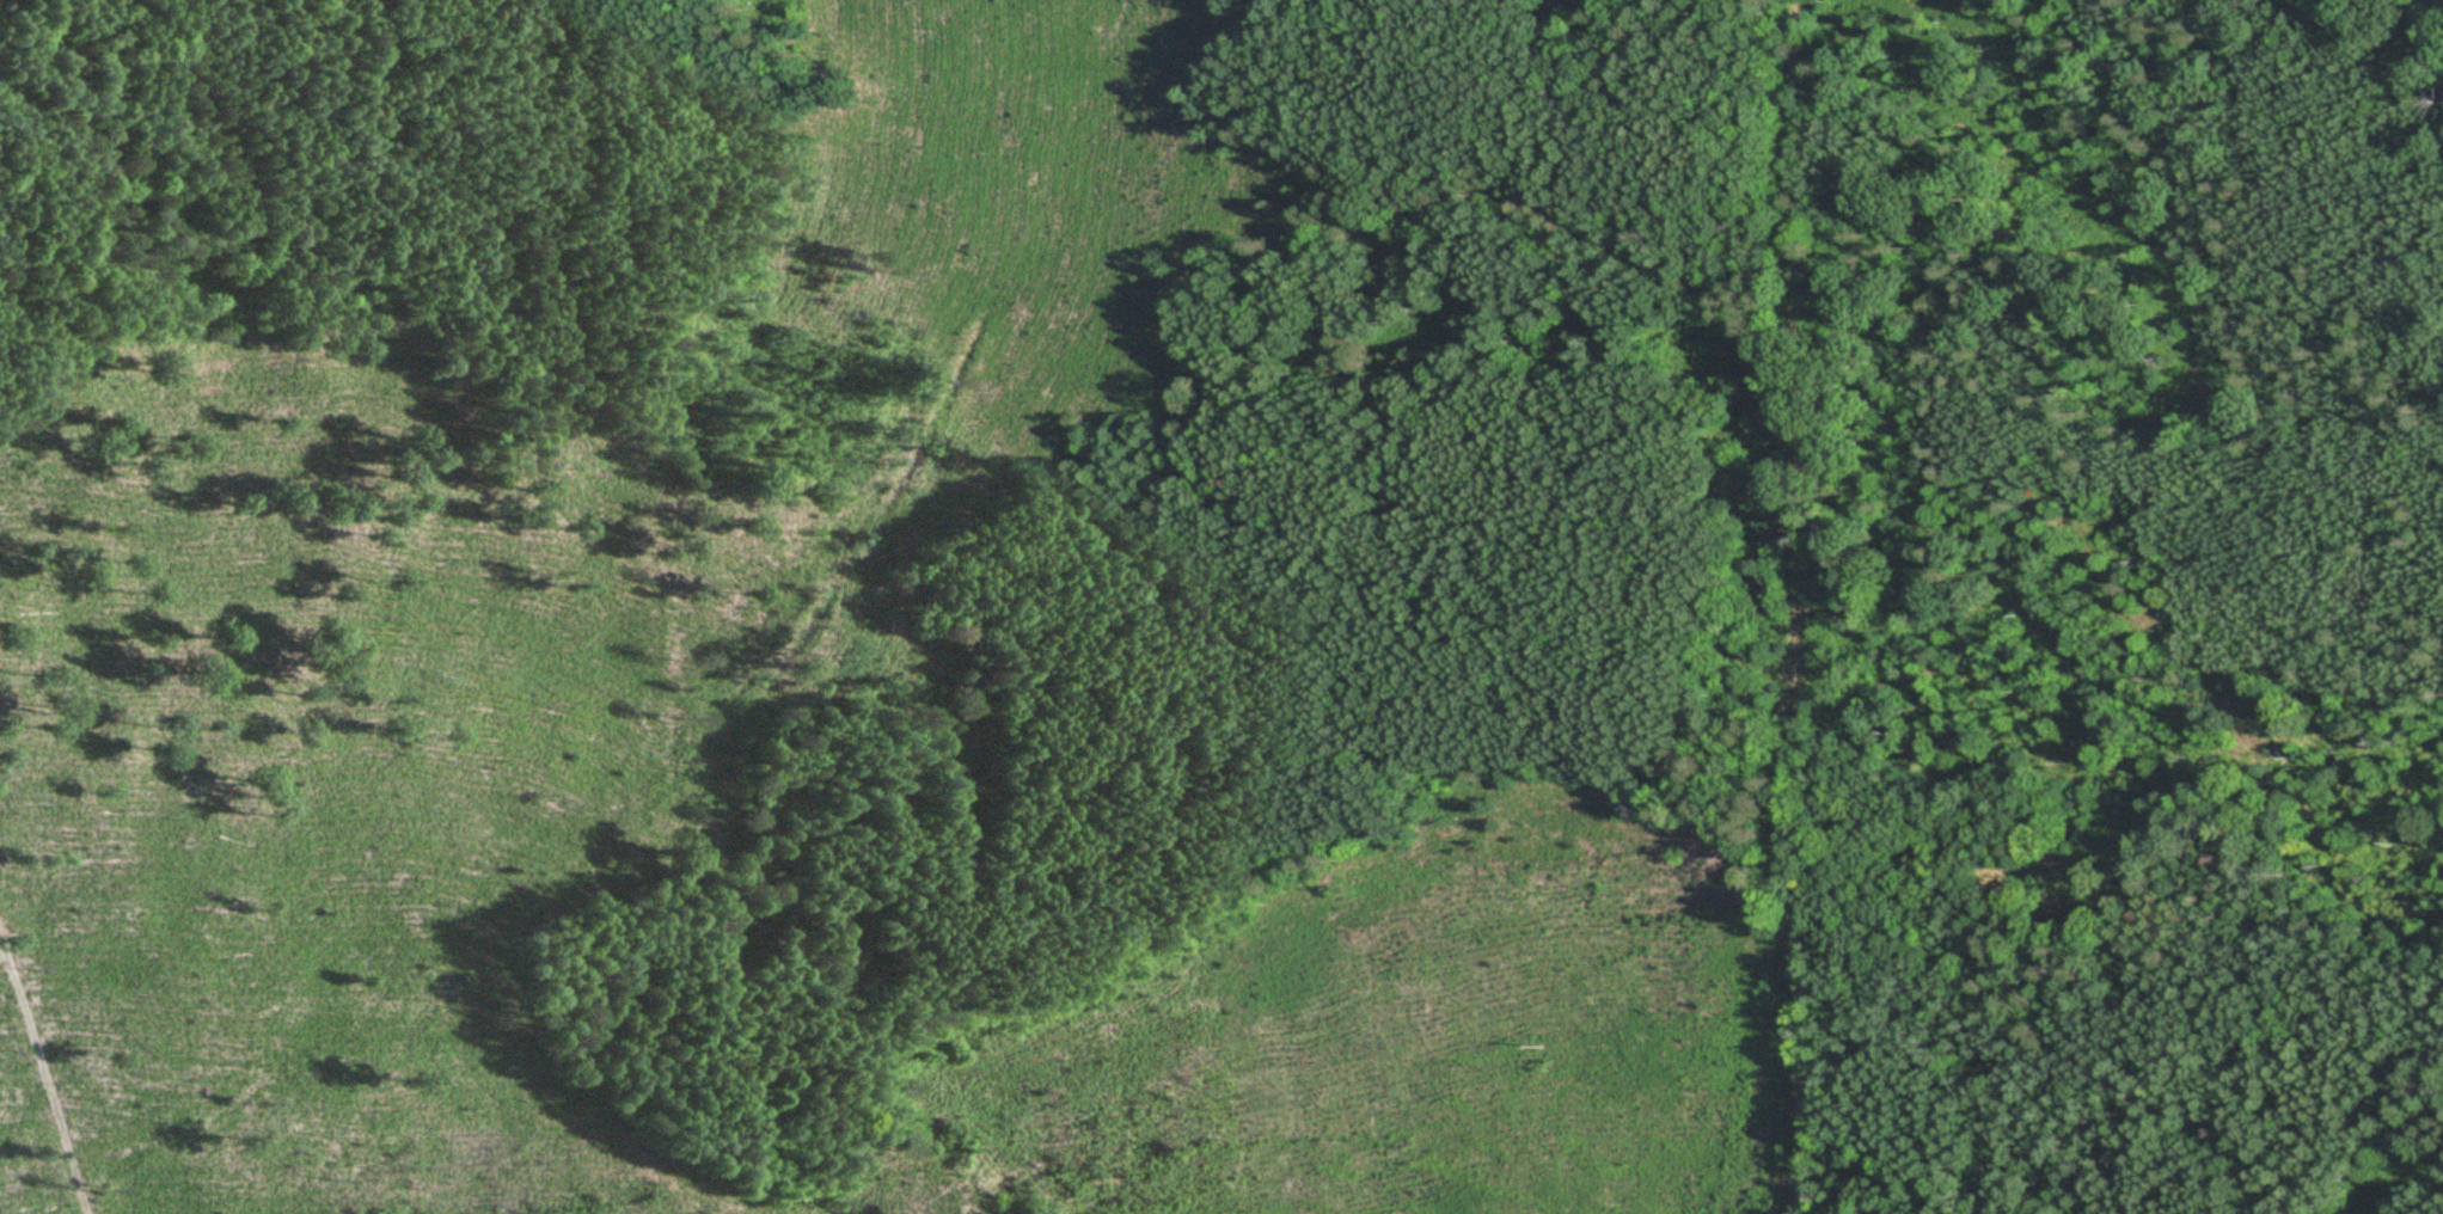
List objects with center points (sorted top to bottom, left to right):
road: (1536, 2)
road: (1790, 606)
road: (49, 1066)

